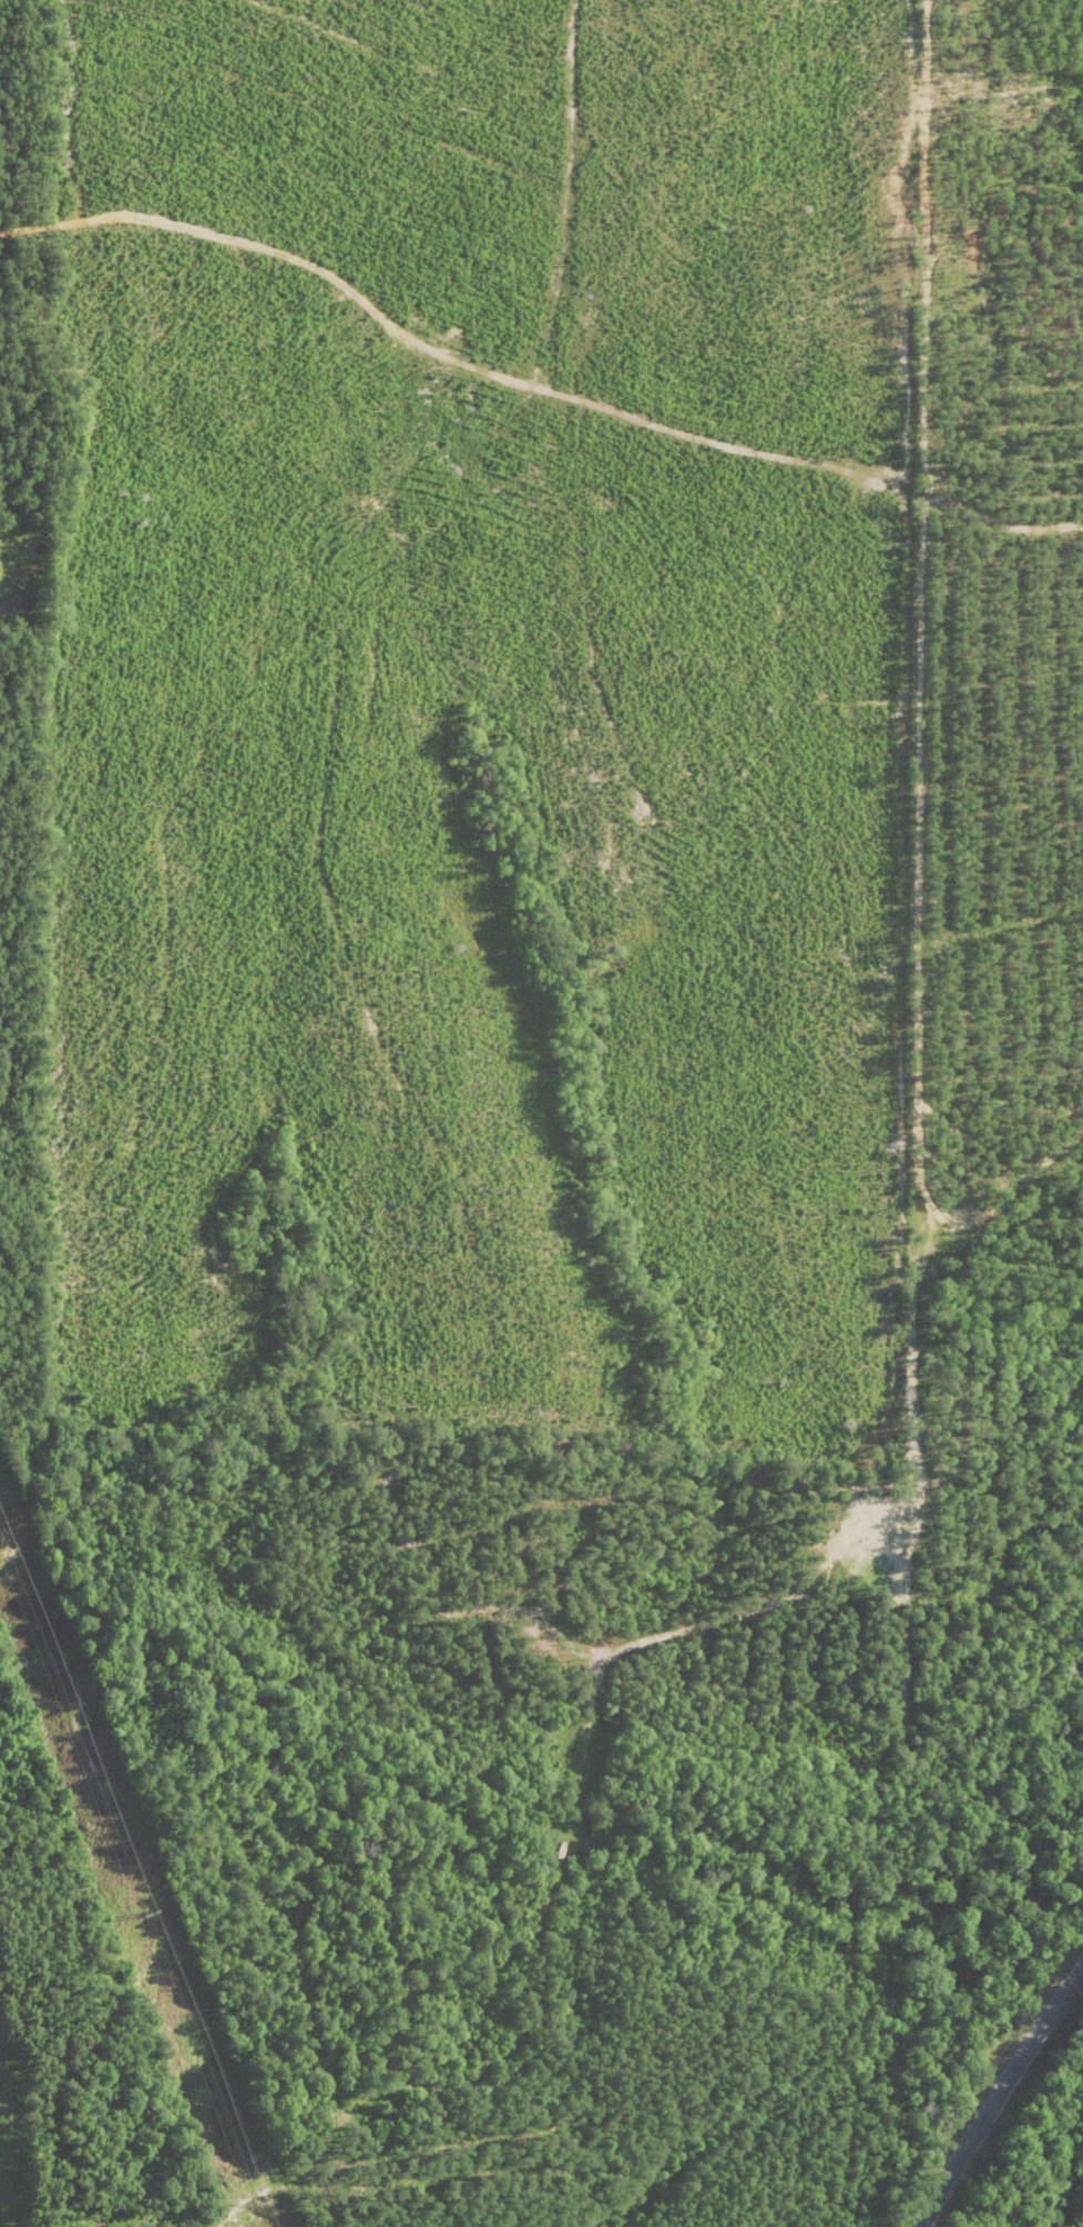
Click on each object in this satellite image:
road: (999, 2097)

